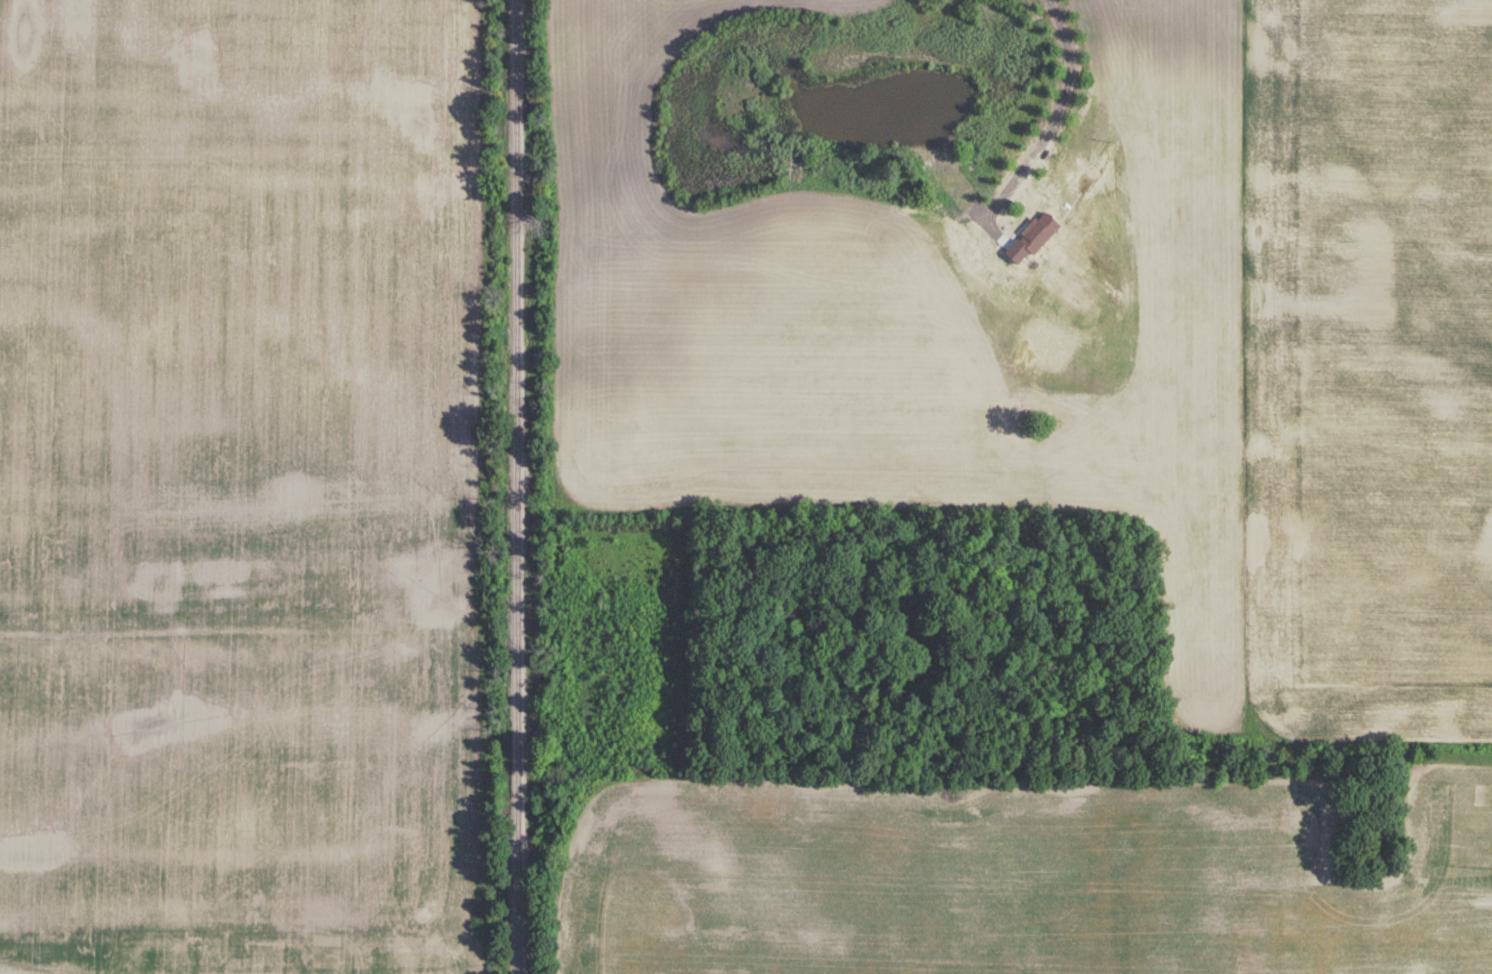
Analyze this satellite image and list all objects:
railway: (516, 487)

